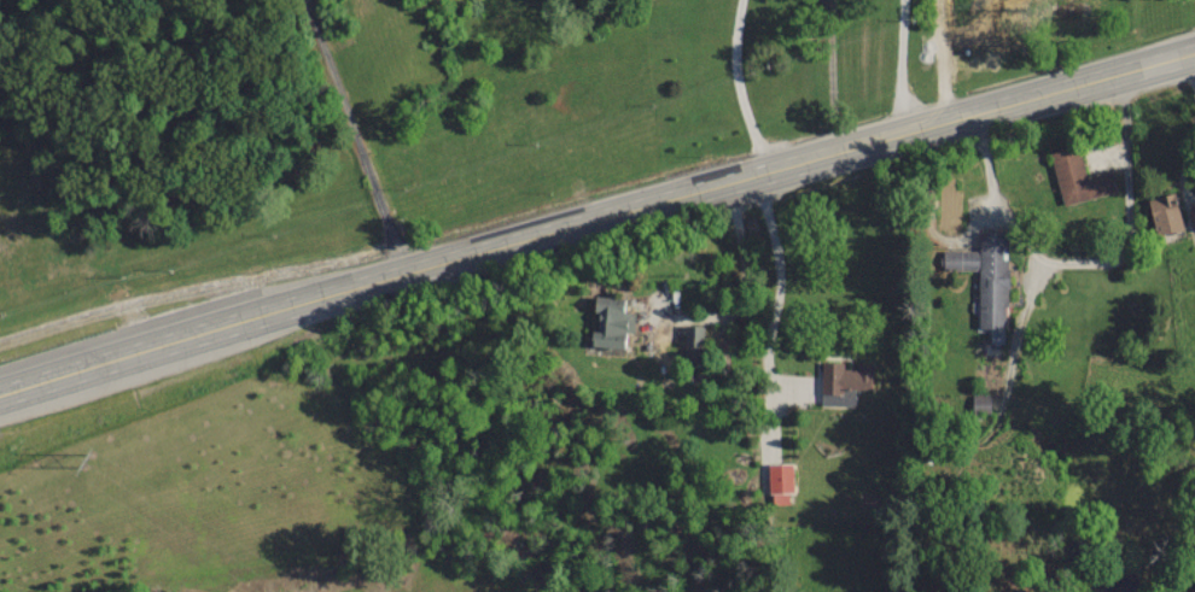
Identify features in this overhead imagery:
road: (905, 65)
road: (741, 86)
road: (357, 134)
building: (1077, 176)
building: (1162, 213)
road: (594, 216)
building: (1193, 217)
building: (984, 275)
building: (689, 335)
building: (843, 377)
building: (979, 401)
power tower: (89, 458)
building: (777, 477)

